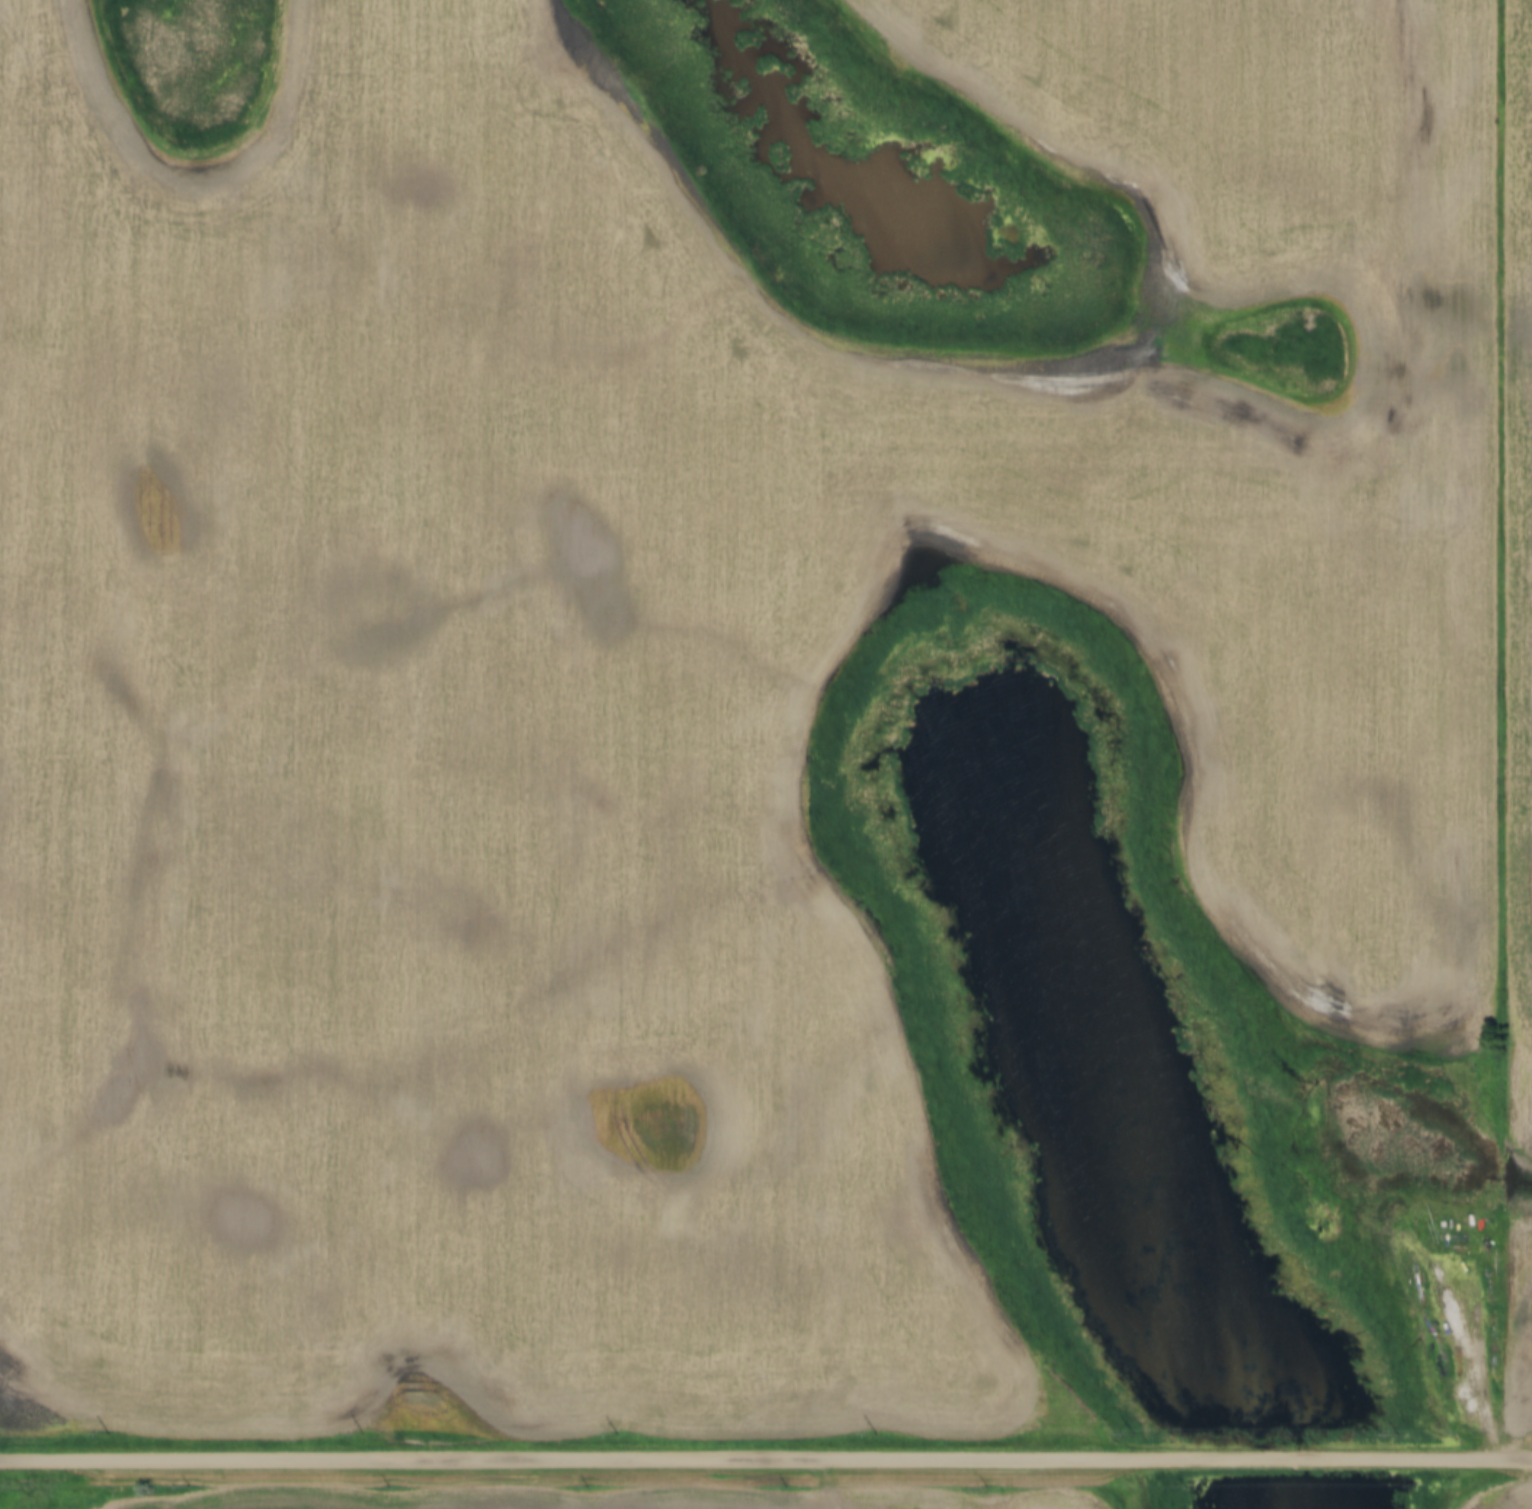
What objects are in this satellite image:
road: (766, 1459)

